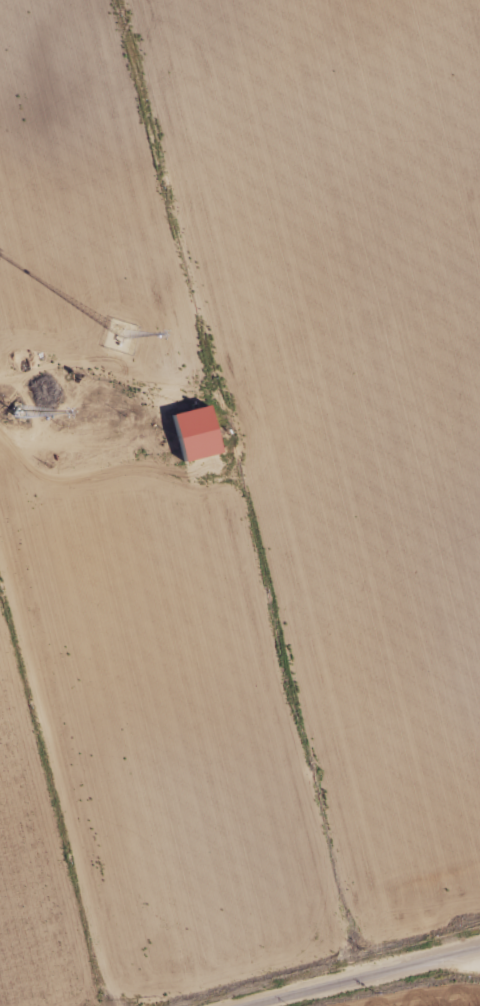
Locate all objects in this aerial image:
building: (194, 431)
road: (362, 976)

